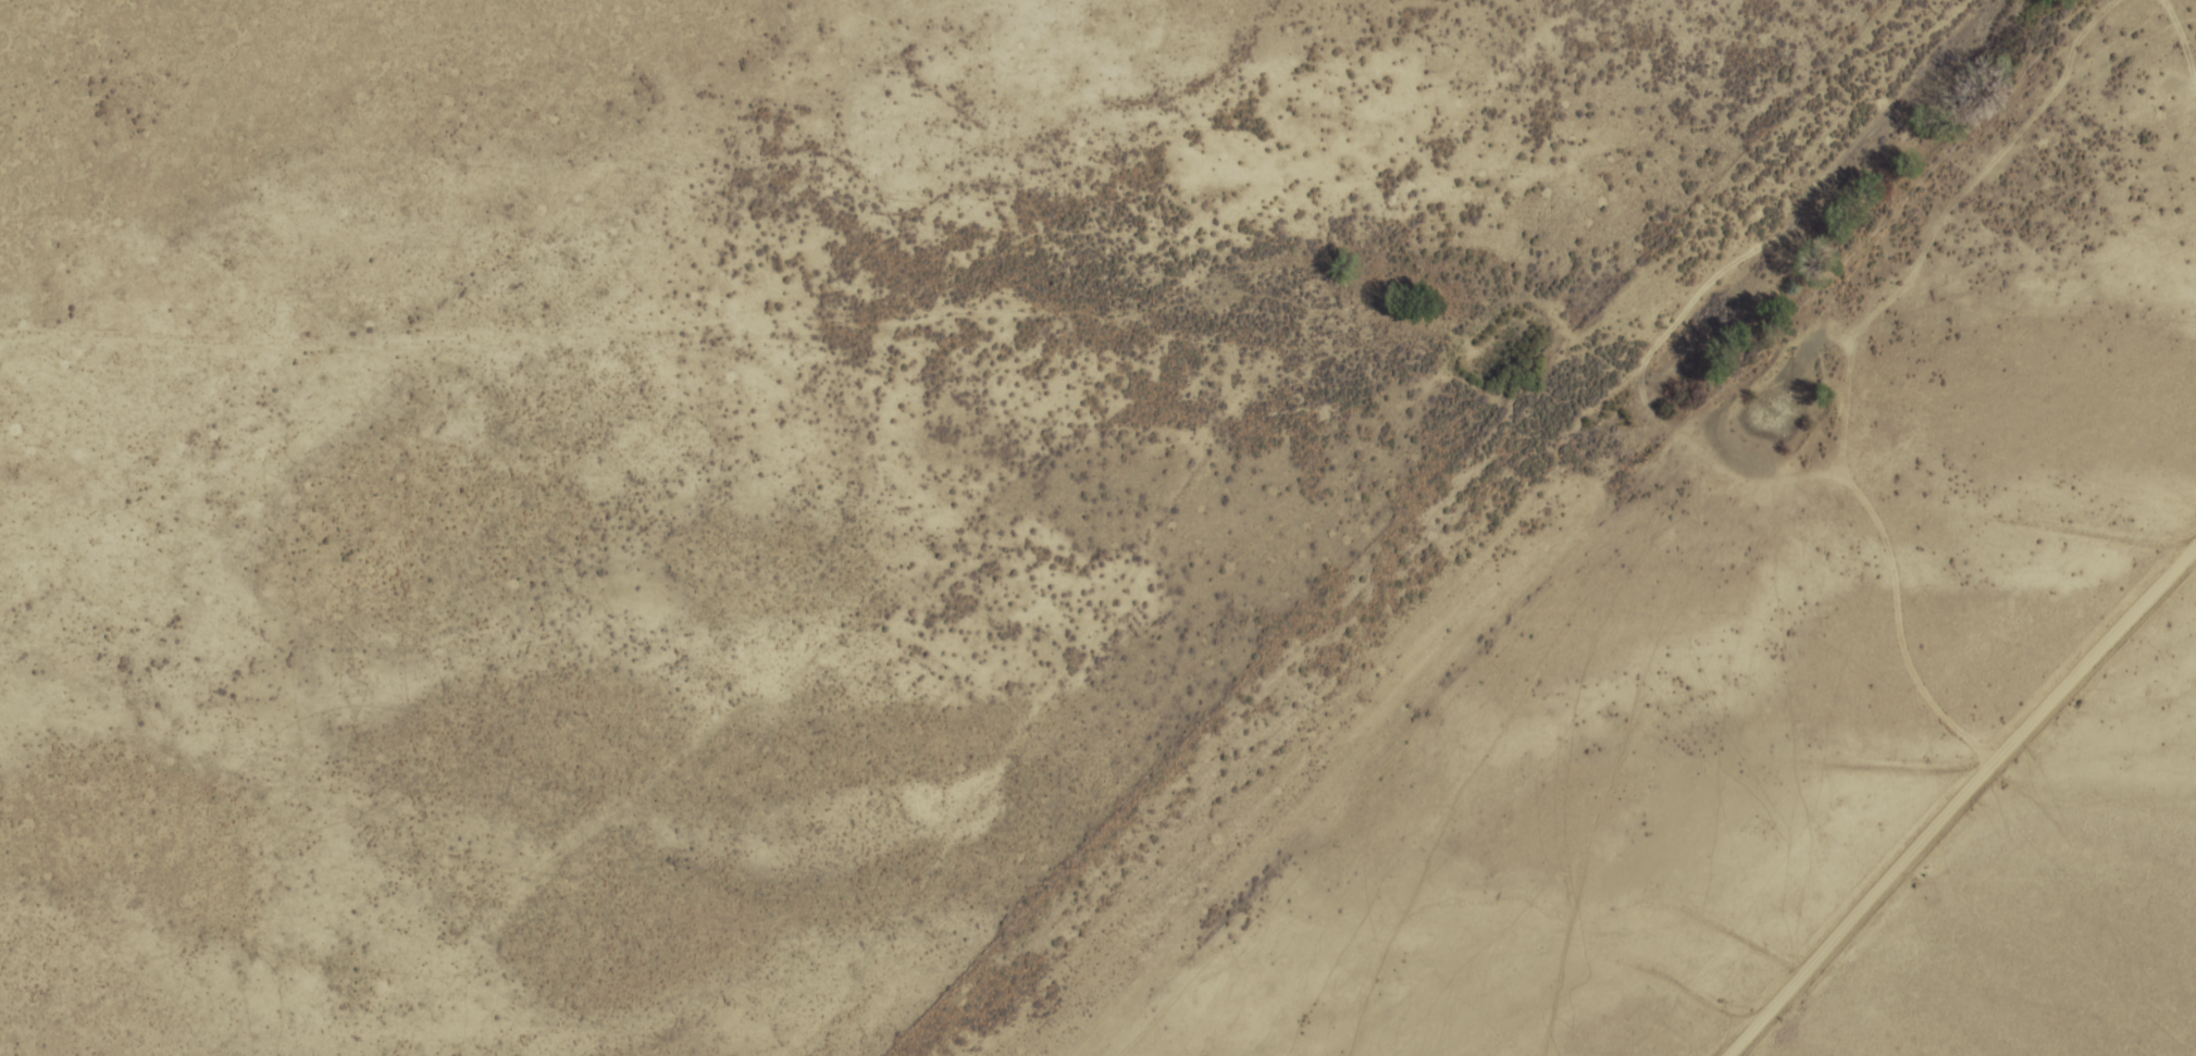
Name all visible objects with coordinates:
road: (1956, 795)

